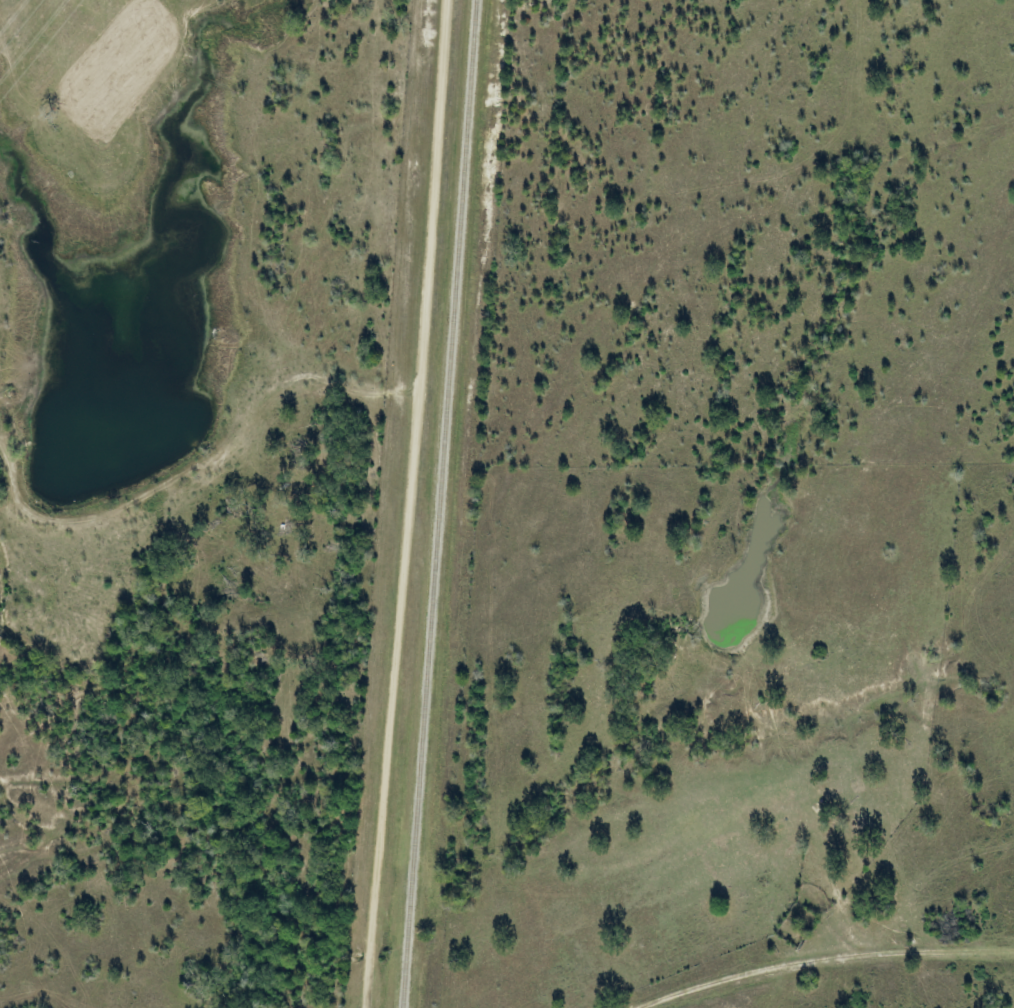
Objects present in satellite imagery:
railway: (441, 503)
road: (406, 504)
road: (750, 979)

